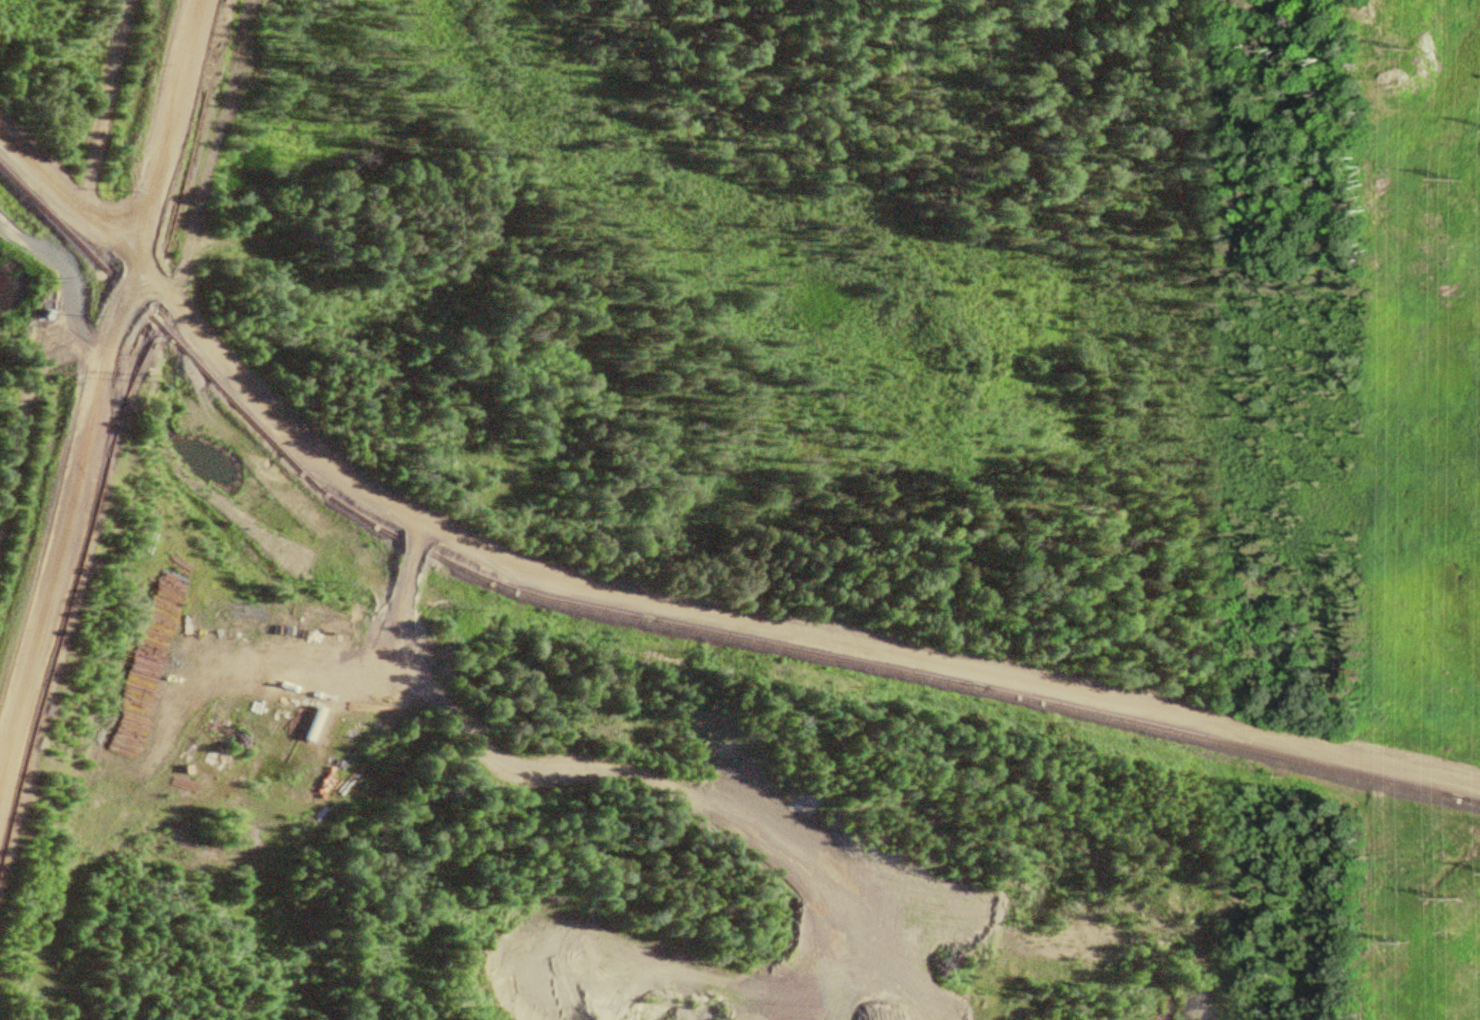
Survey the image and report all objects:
road: (104, 337)
road: (668, 605)

